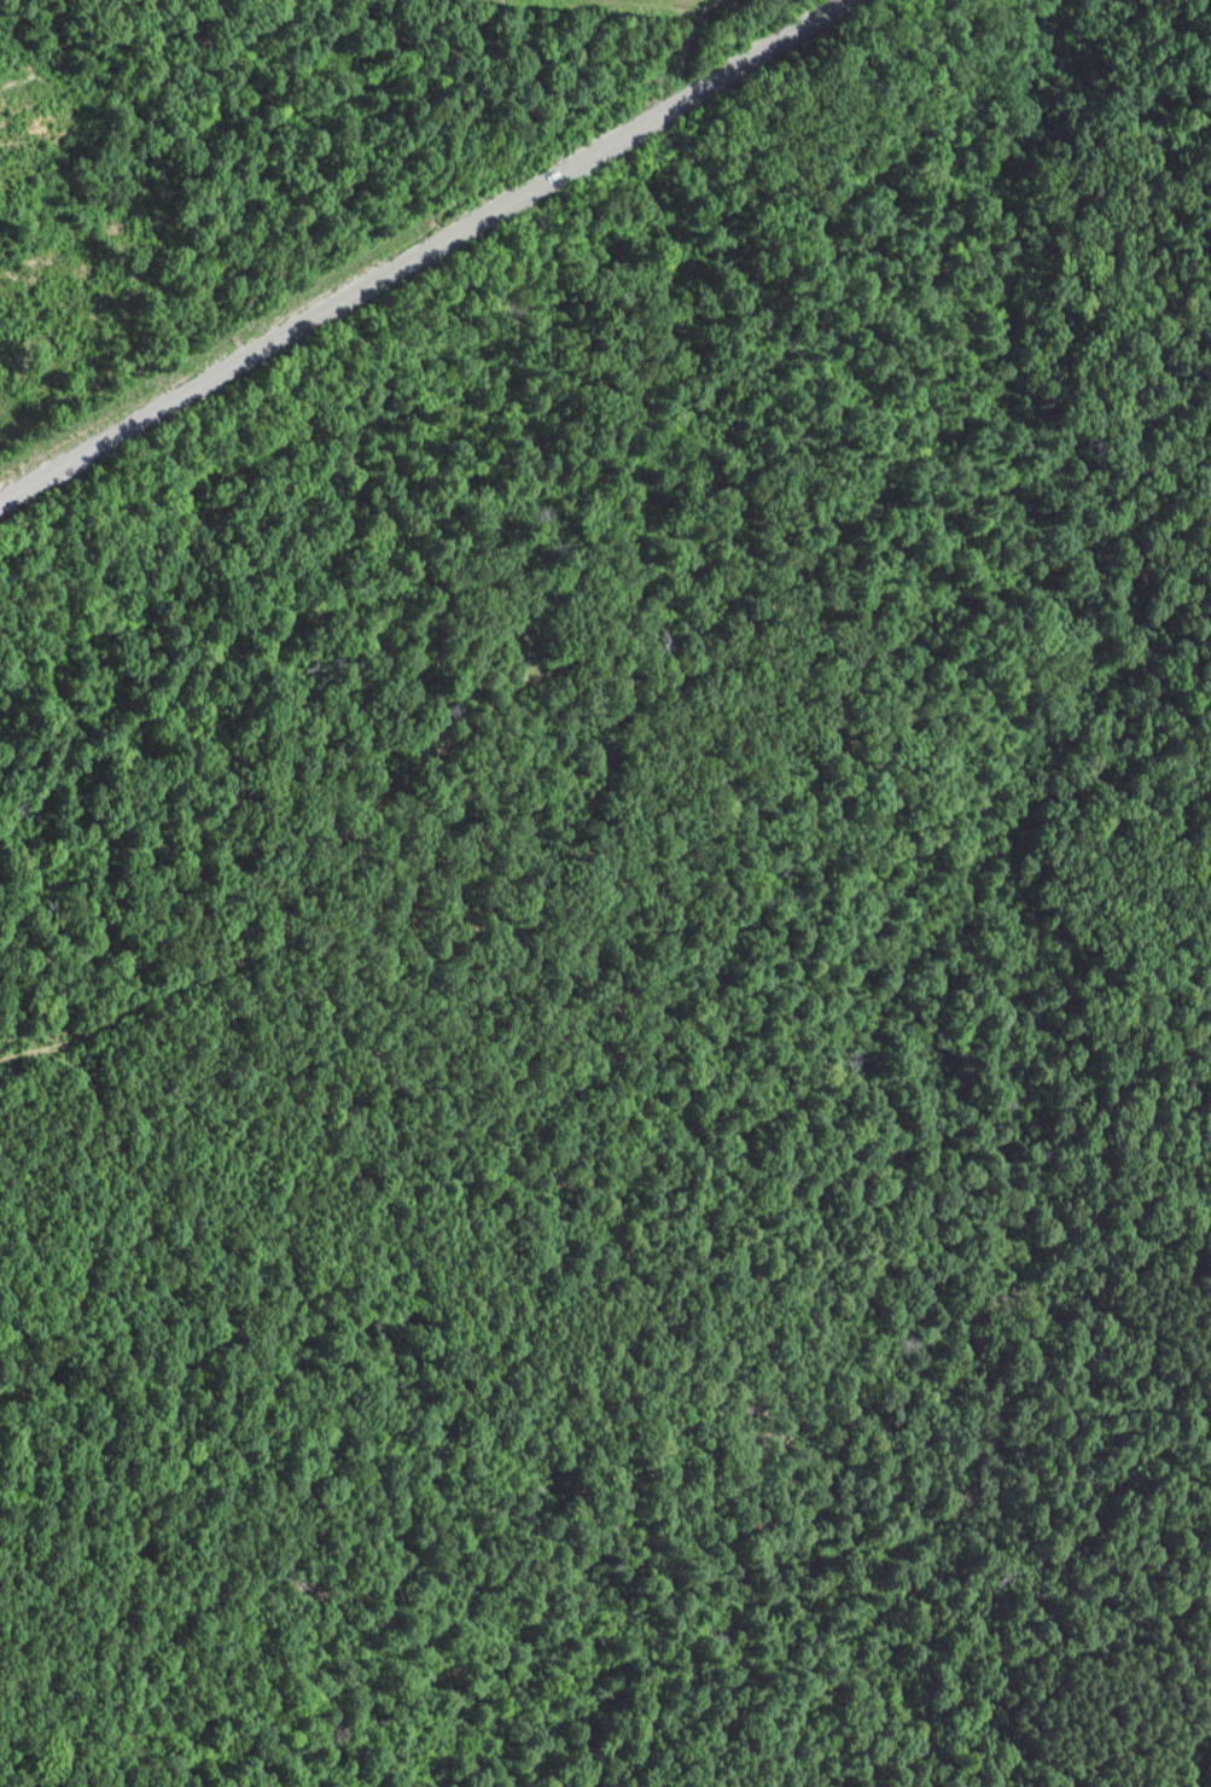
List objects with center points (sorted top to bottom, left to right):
road: (423, 251)

